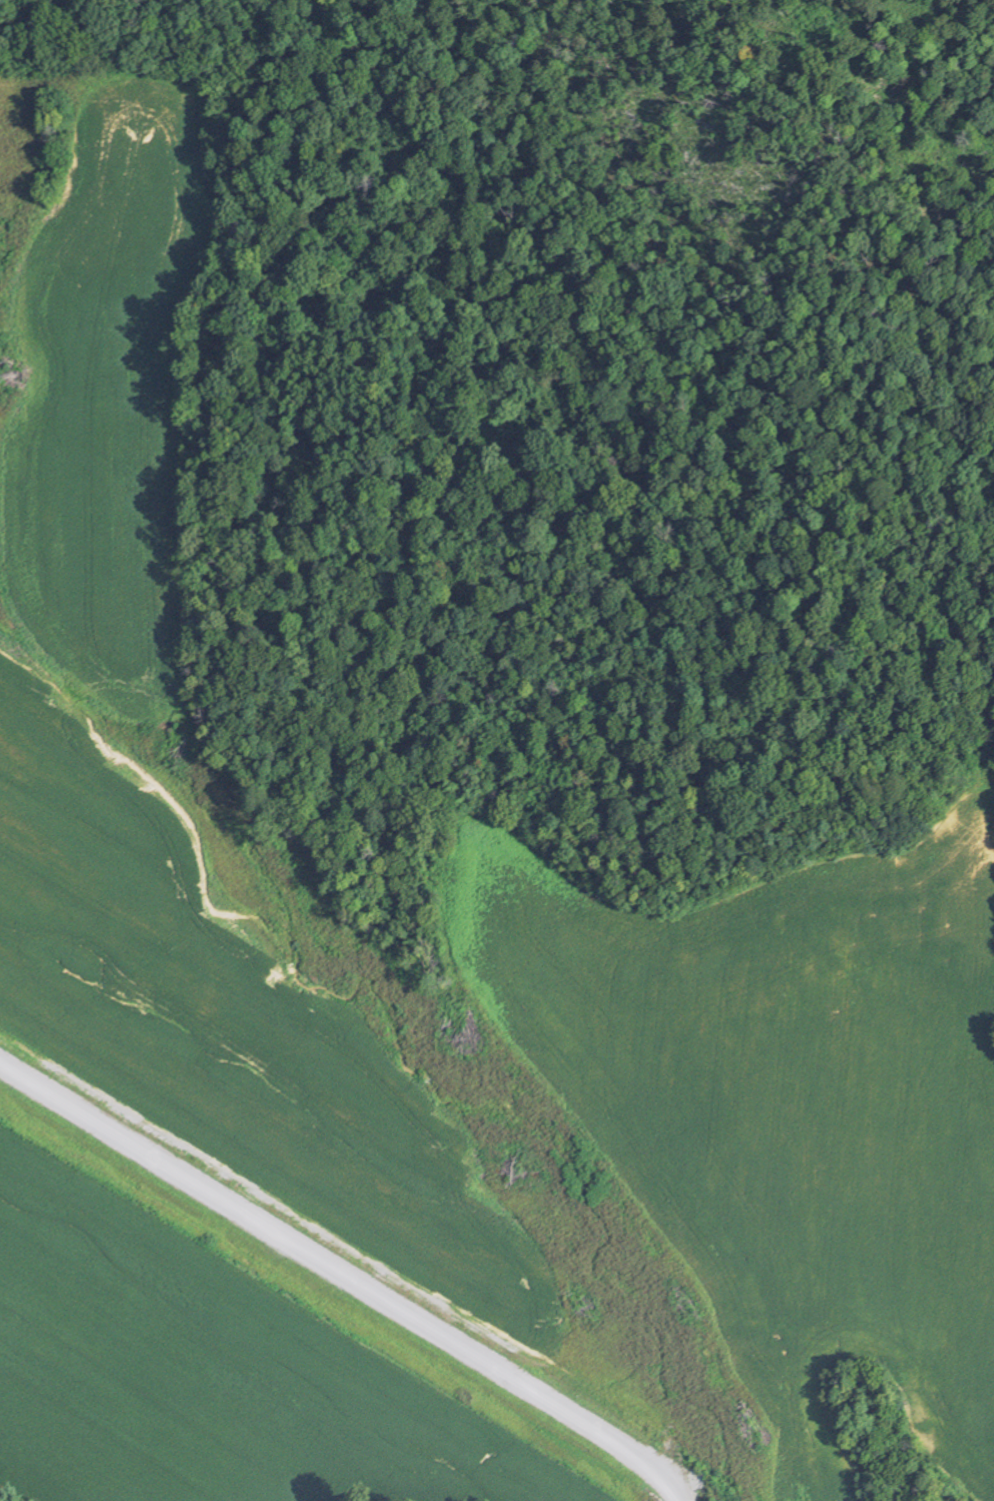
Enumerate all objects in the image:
road: (347, 1272)

